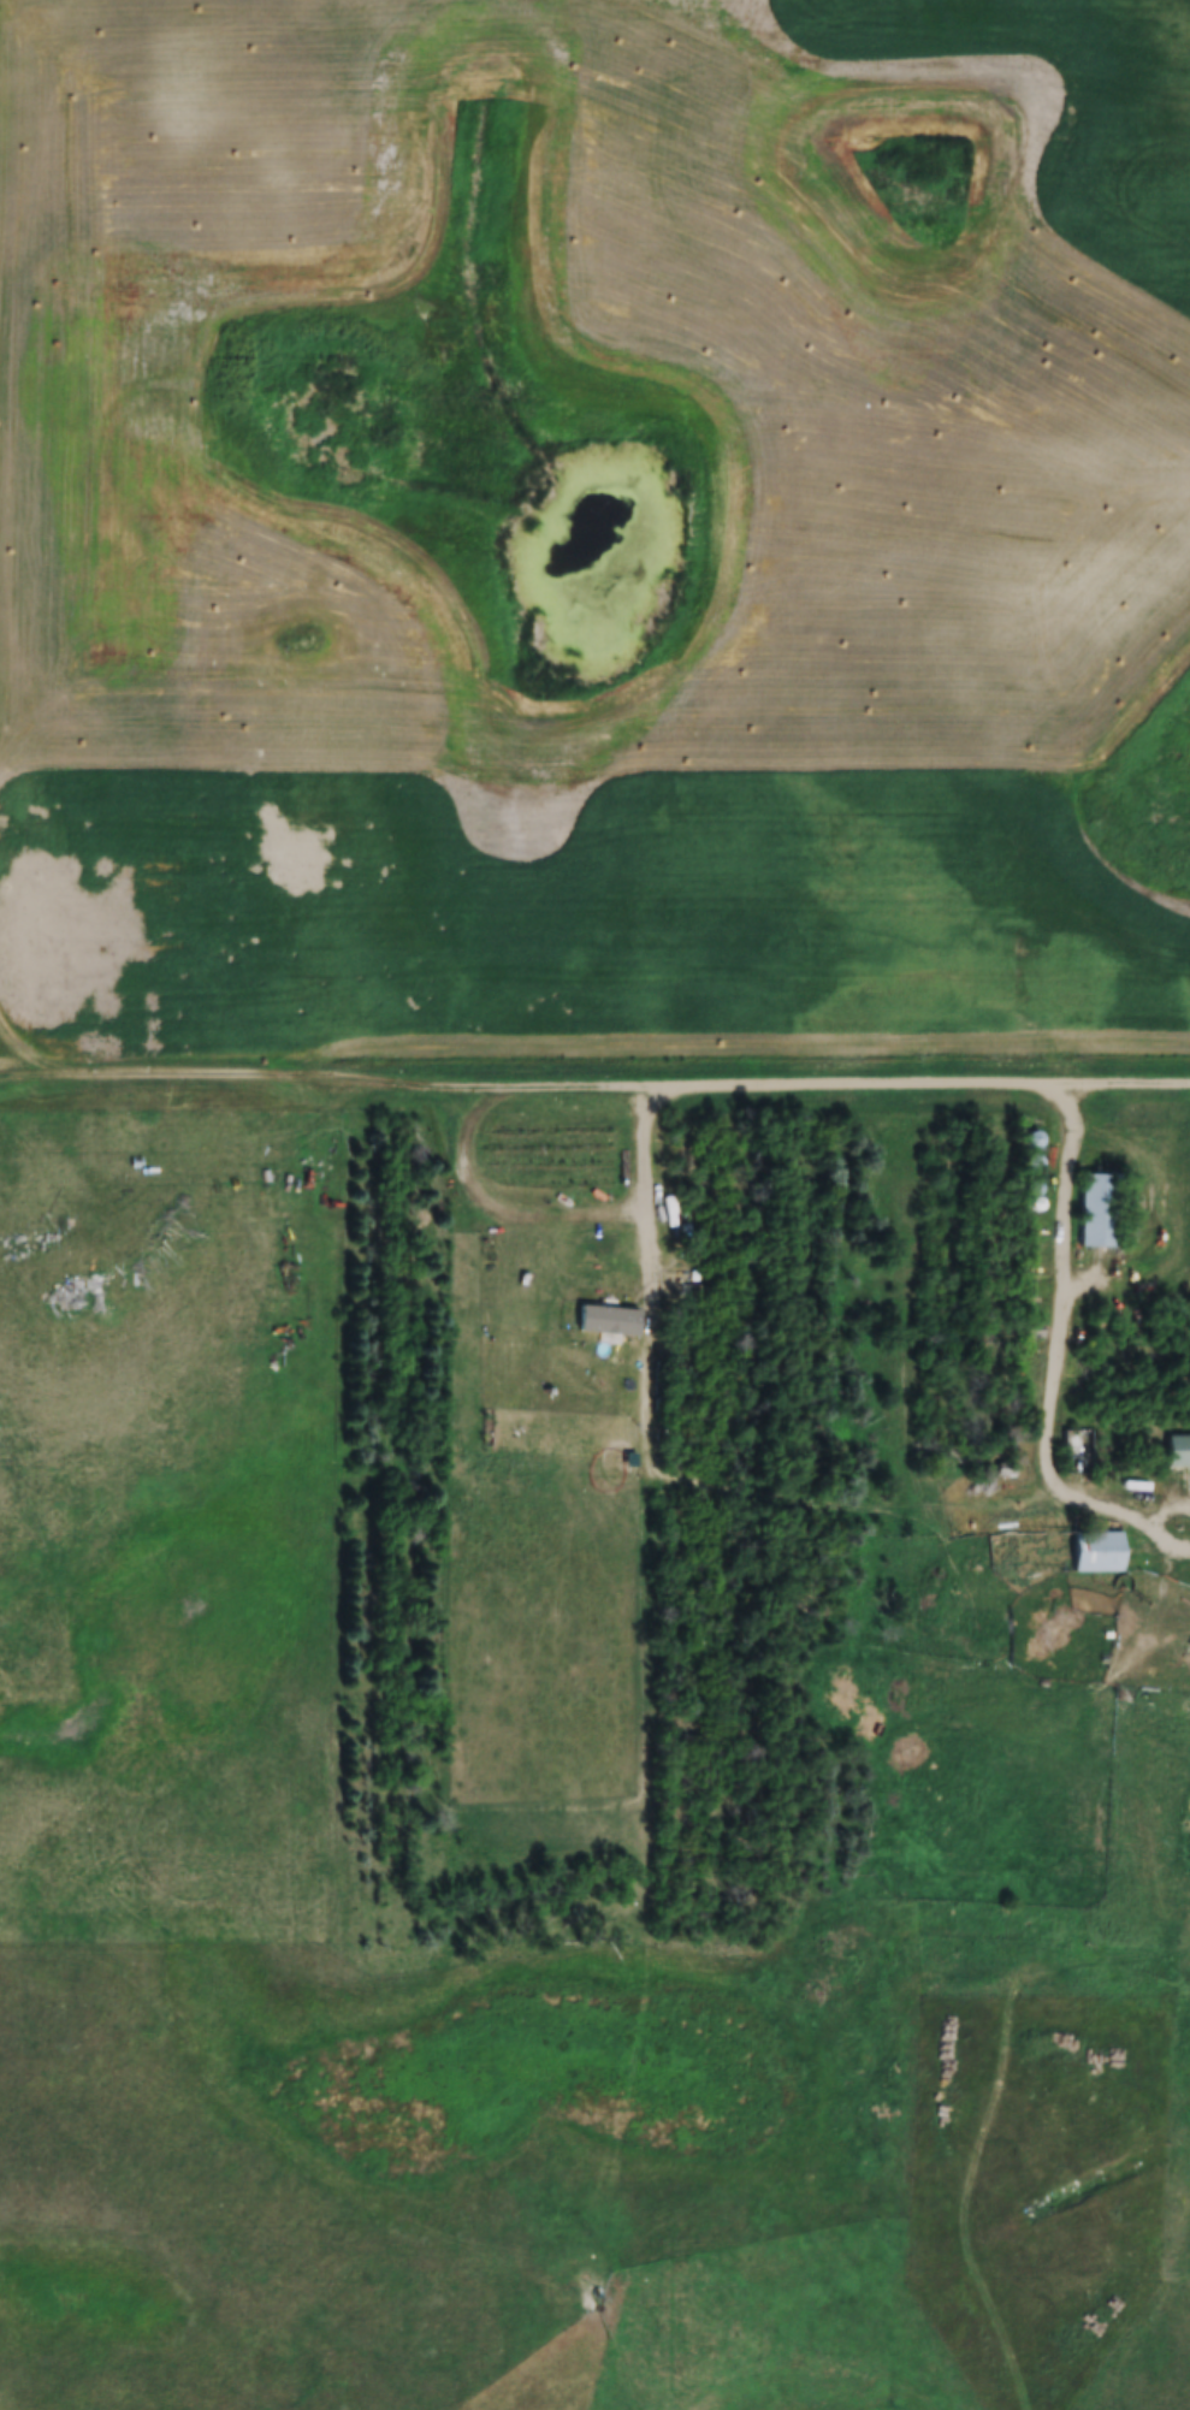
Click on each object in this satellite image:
road: (609, 1074)
building: (1031, 1141)
building: (1096, 1212)
road: (566, 1215)
road: (1049, 1360)
building: (1076, 1452)
building: (1178, 1452)
road: (1158, 1529)
building: (1096, 1552)

